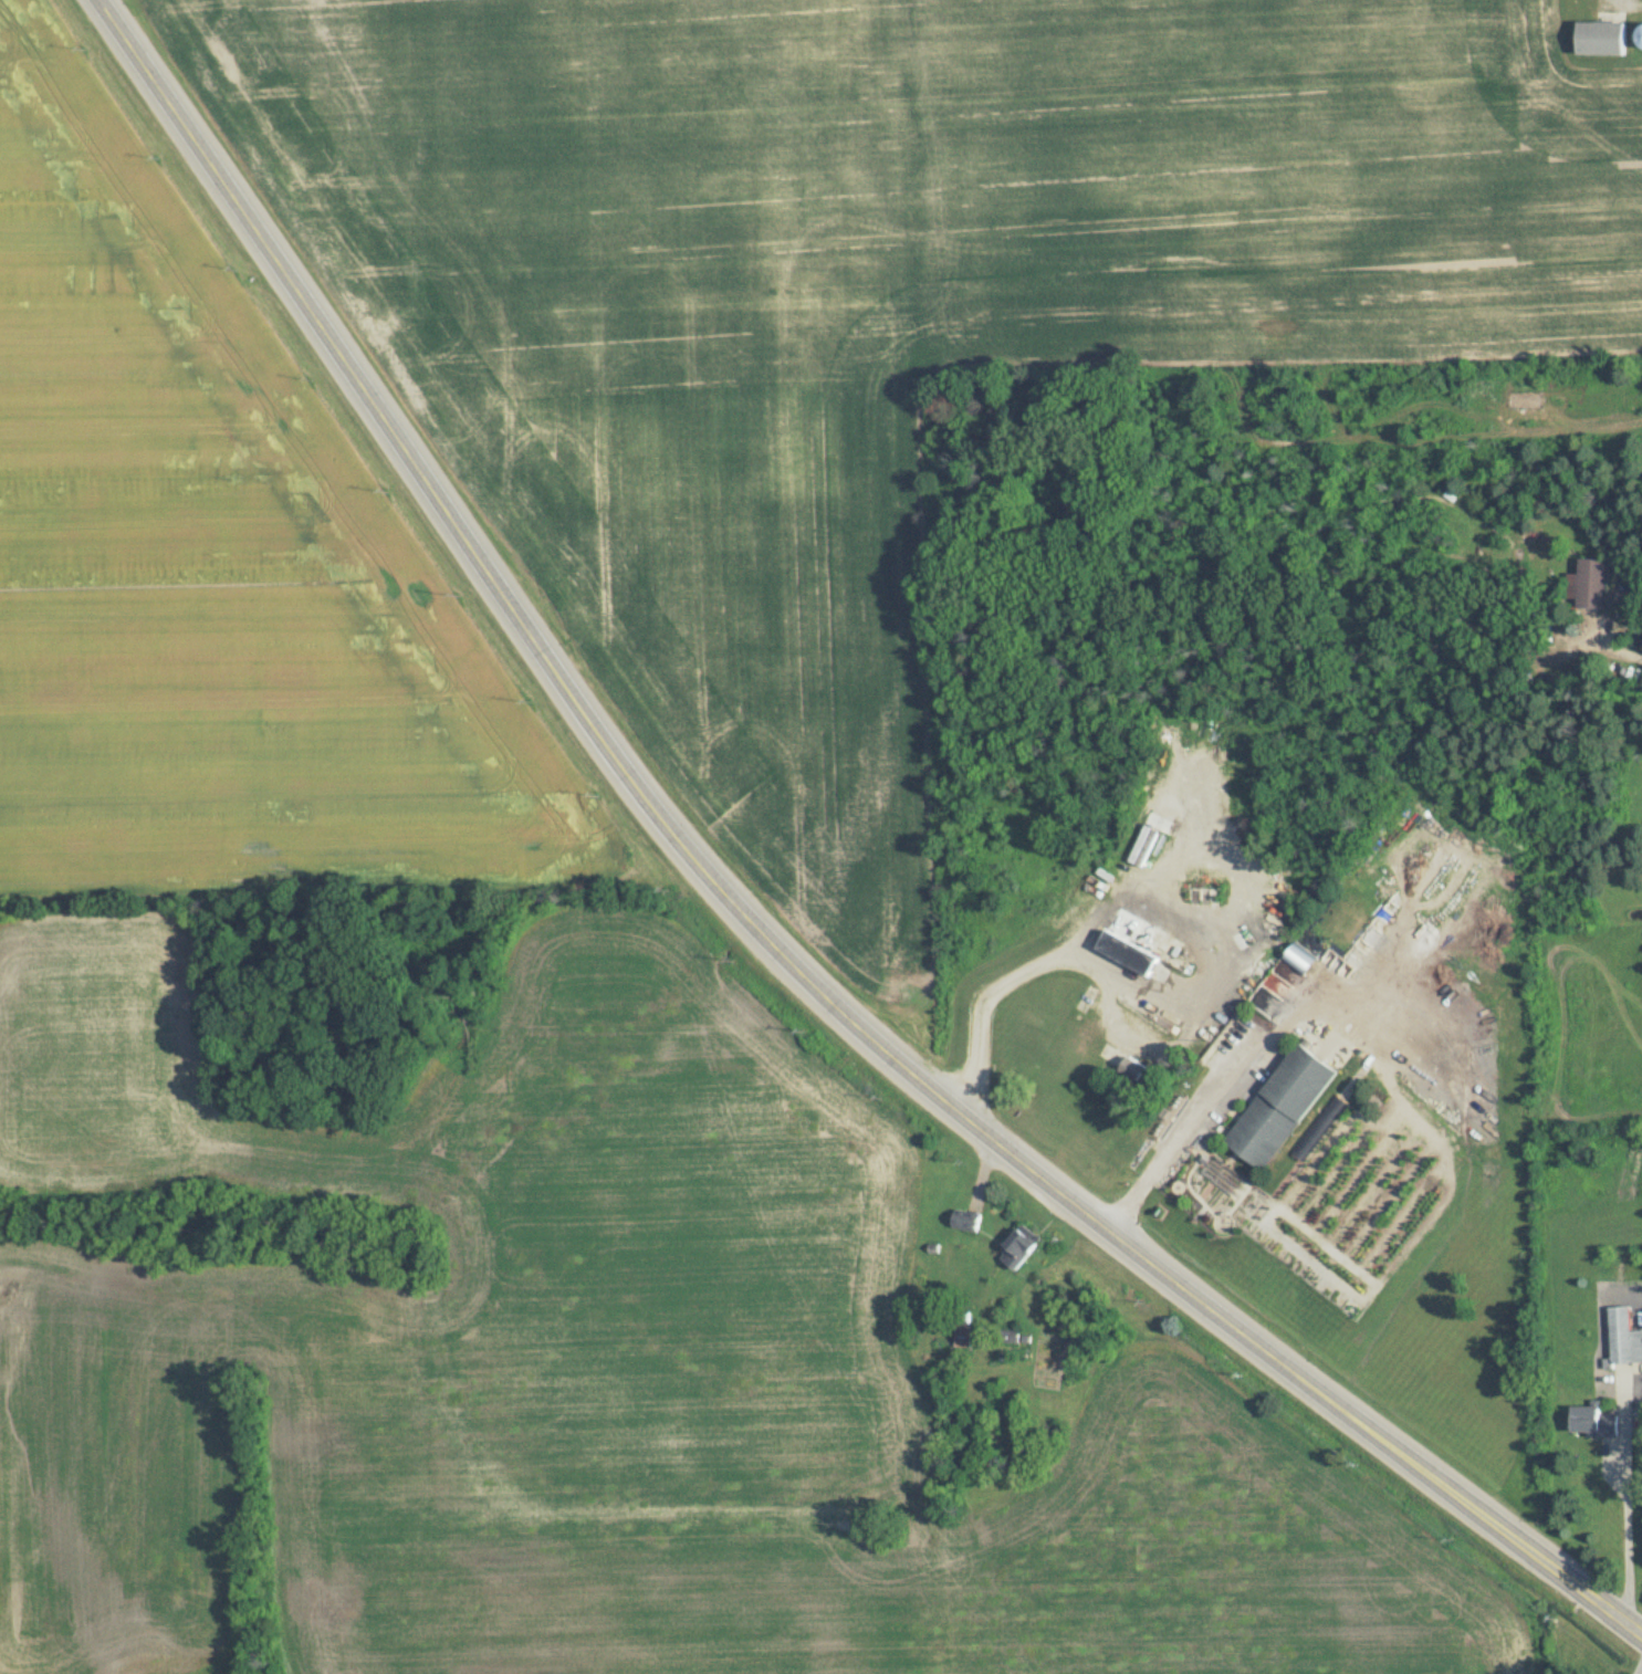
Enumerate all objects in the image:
building: (1640, 33)
building: (1591, 582)
road: (753, 928)
building: (1127, 952)
building: (1299, 956)
road: (1157, 998)
road: (1138, 1045)
building: (1132, 1067)
road: (1234, 1078)
building: (1279, 1106)
building: (966, 1221)
building: (1016, 1249)
building: (962, 1326)
building: (1623, 1338)
building: (1592, 1421)
road: (1627, 1528)
road: (1641, 1672)

